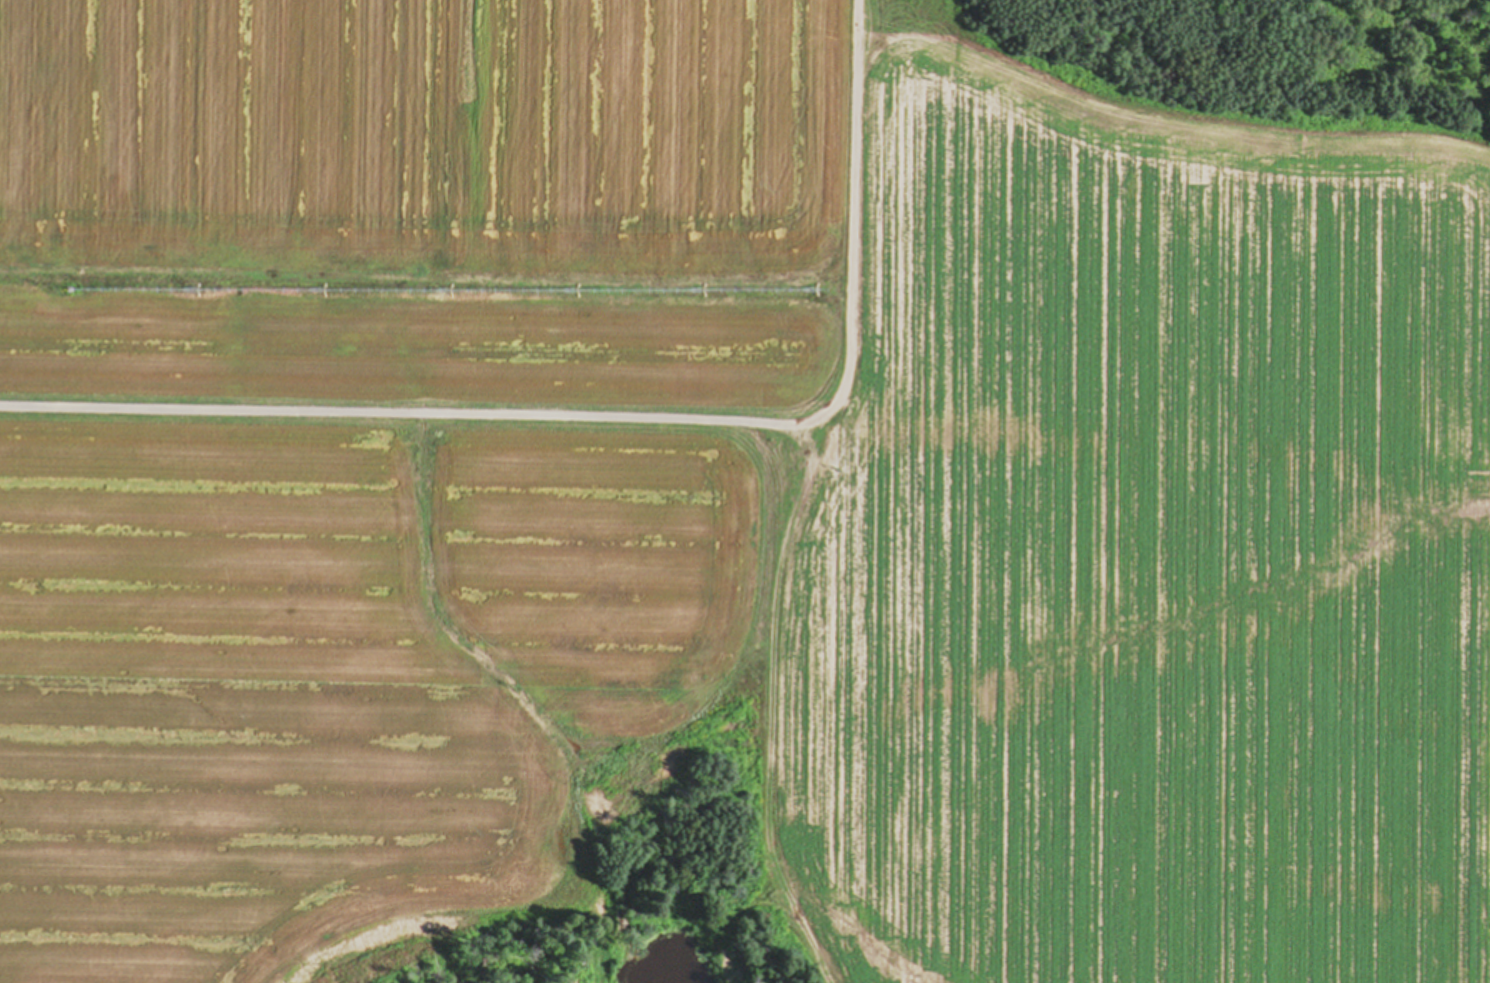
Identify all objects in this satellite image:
road: (624, 415)

